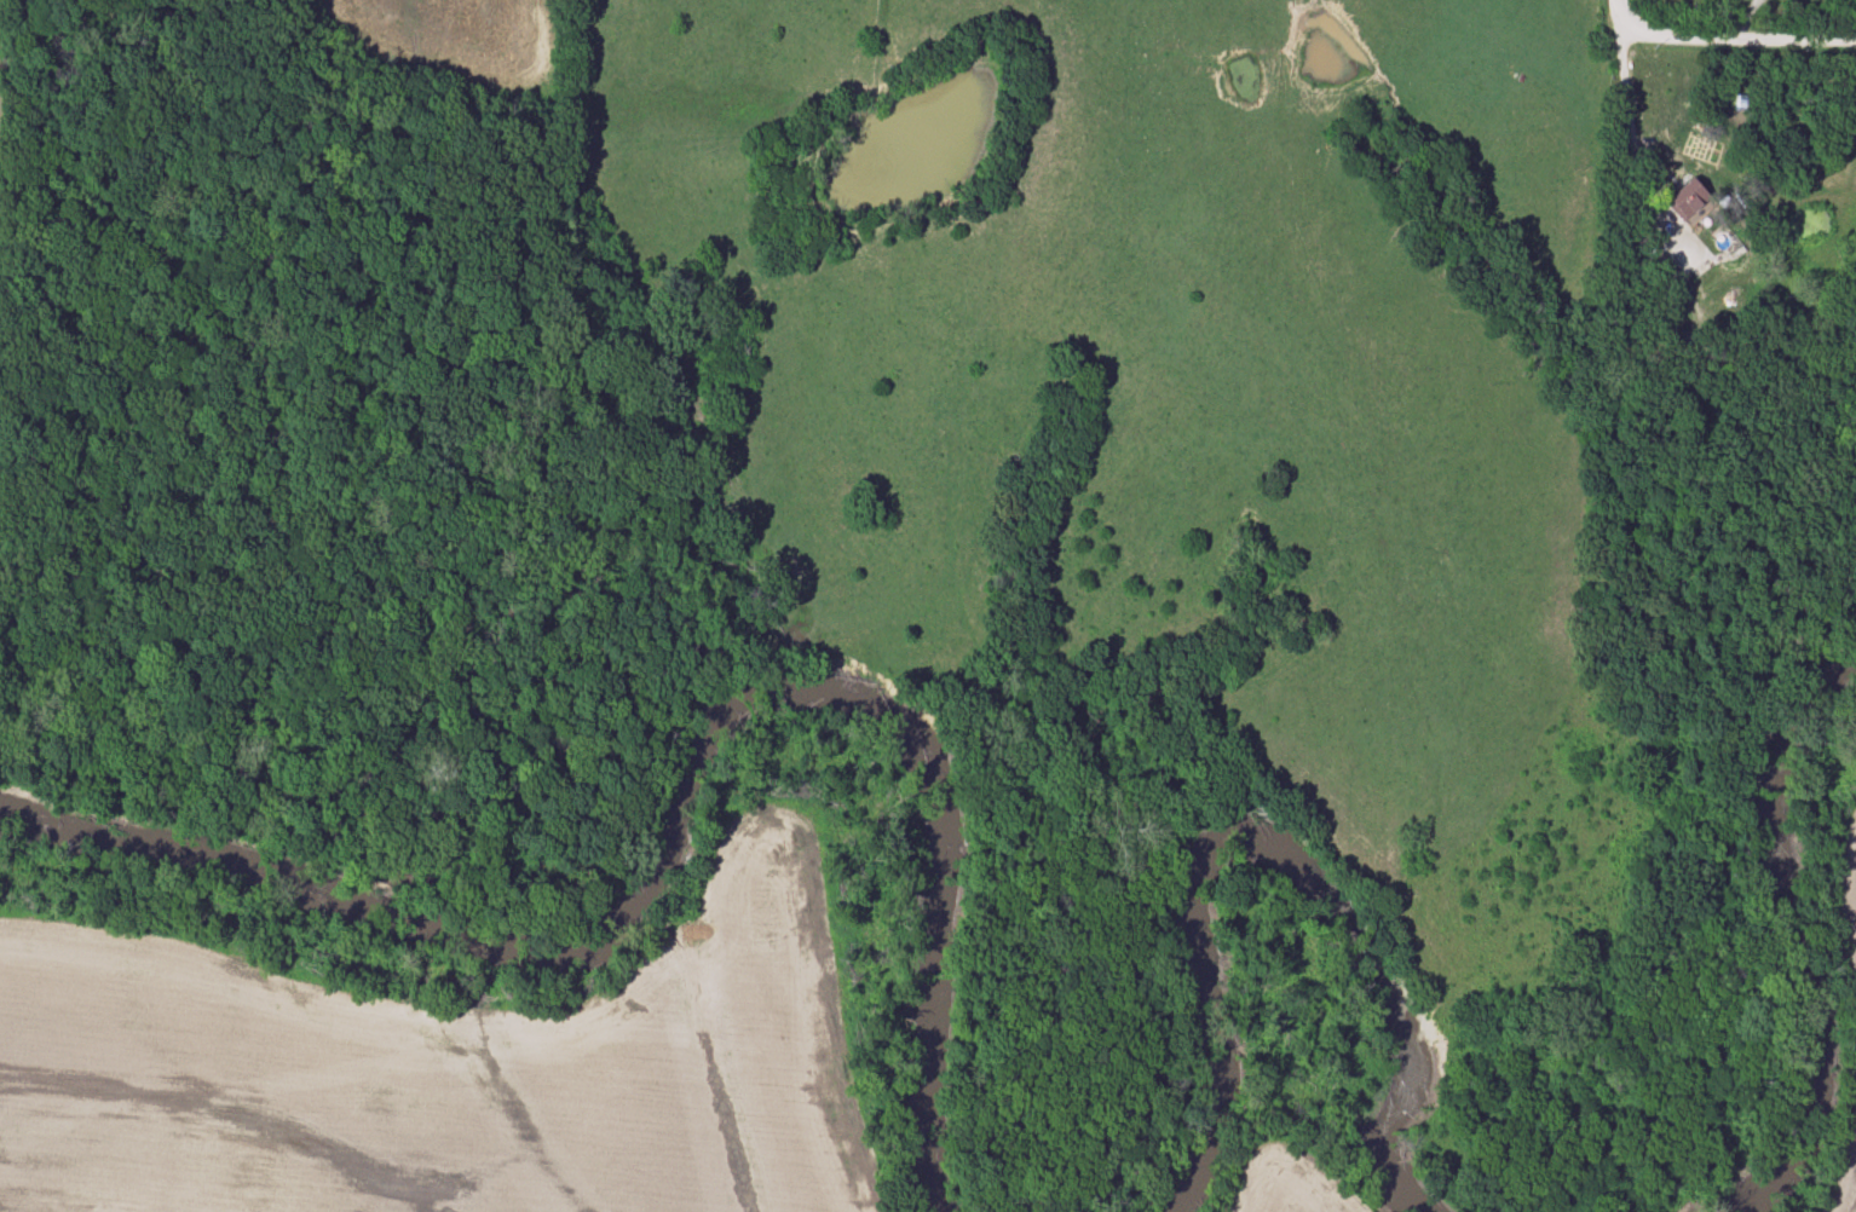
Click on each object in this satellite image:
road: (1622, 13)
road: (1739, 47)
road: (1629, 132)
building: (1691, 201)
building: (1682, 342)
river: (684, 810)
river: (1252, 852)
river: (1798, 962)

